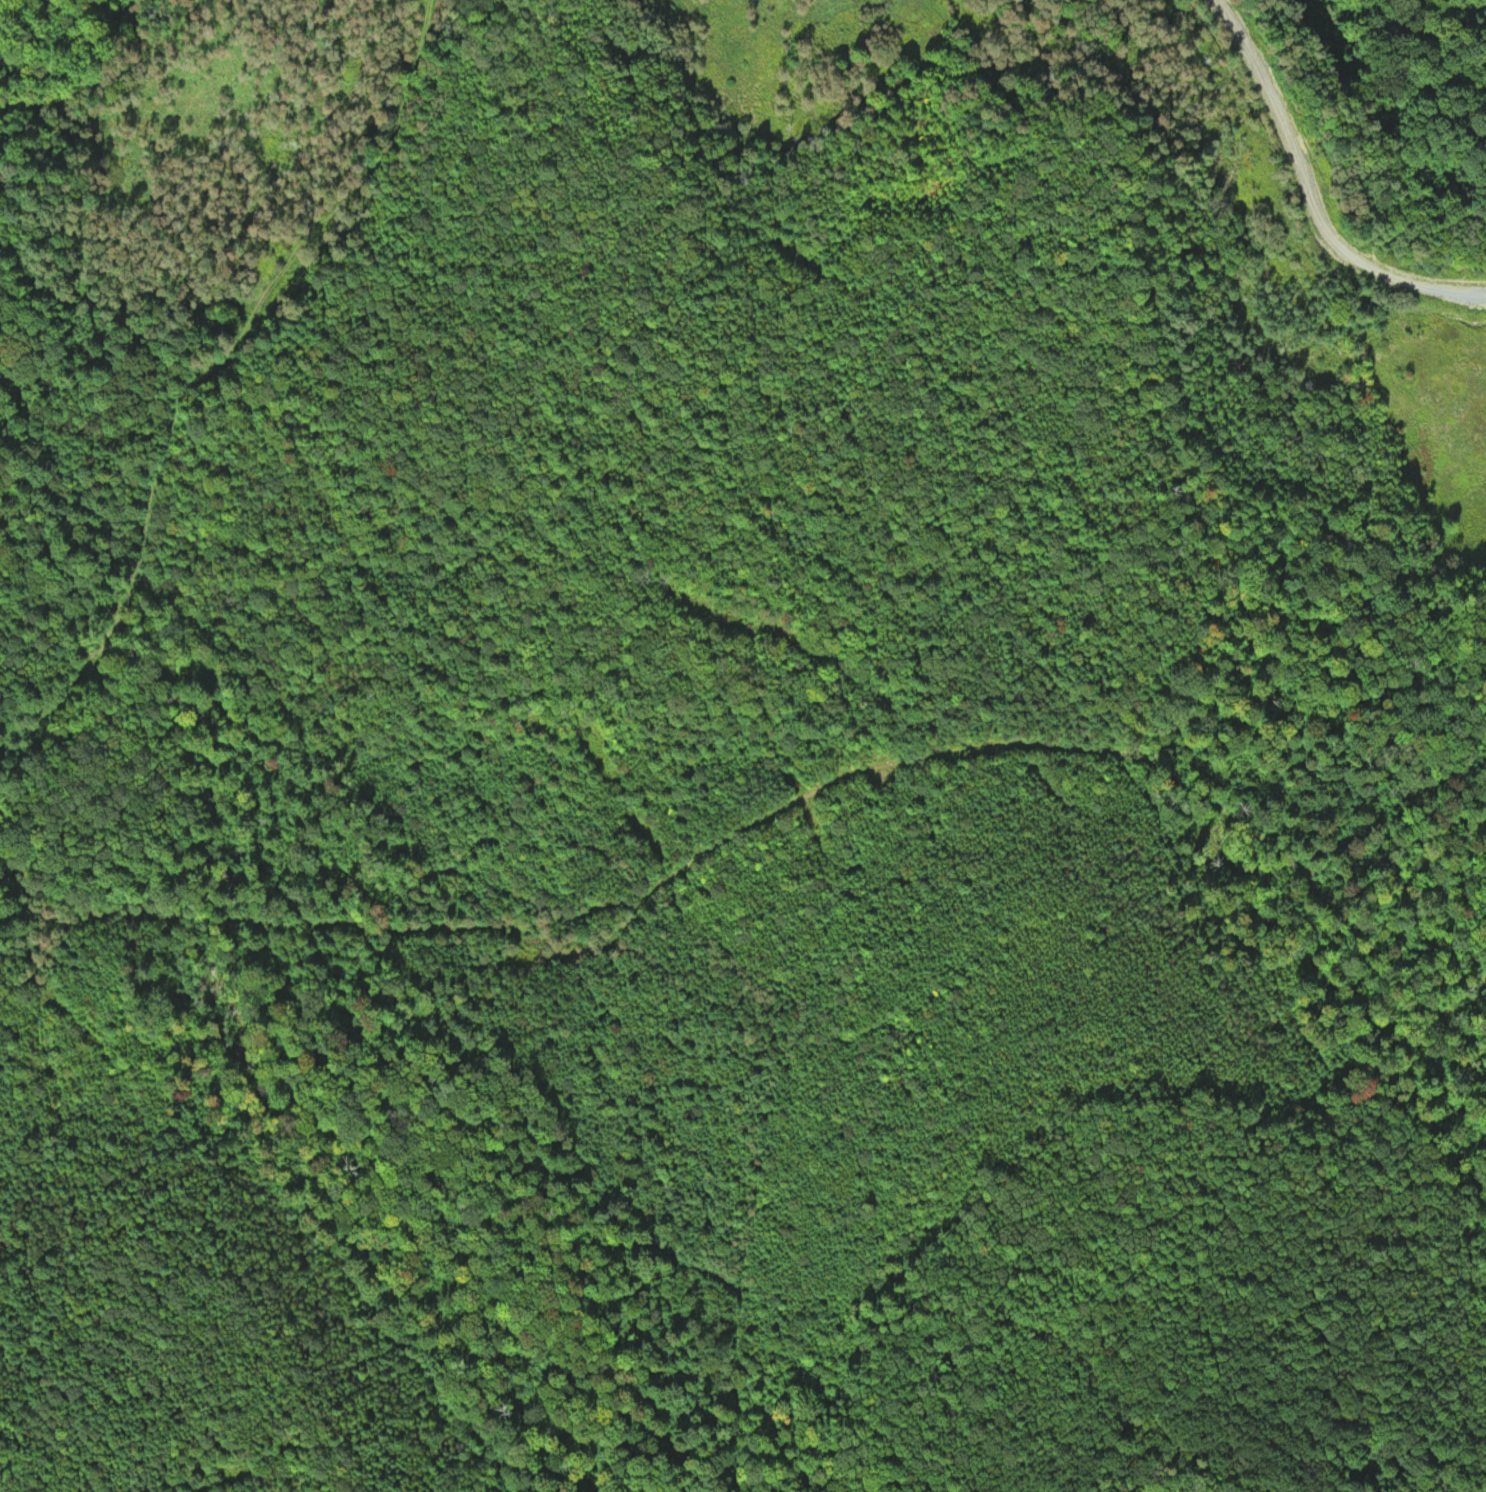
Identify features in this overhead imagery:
road: (1425, 57)

